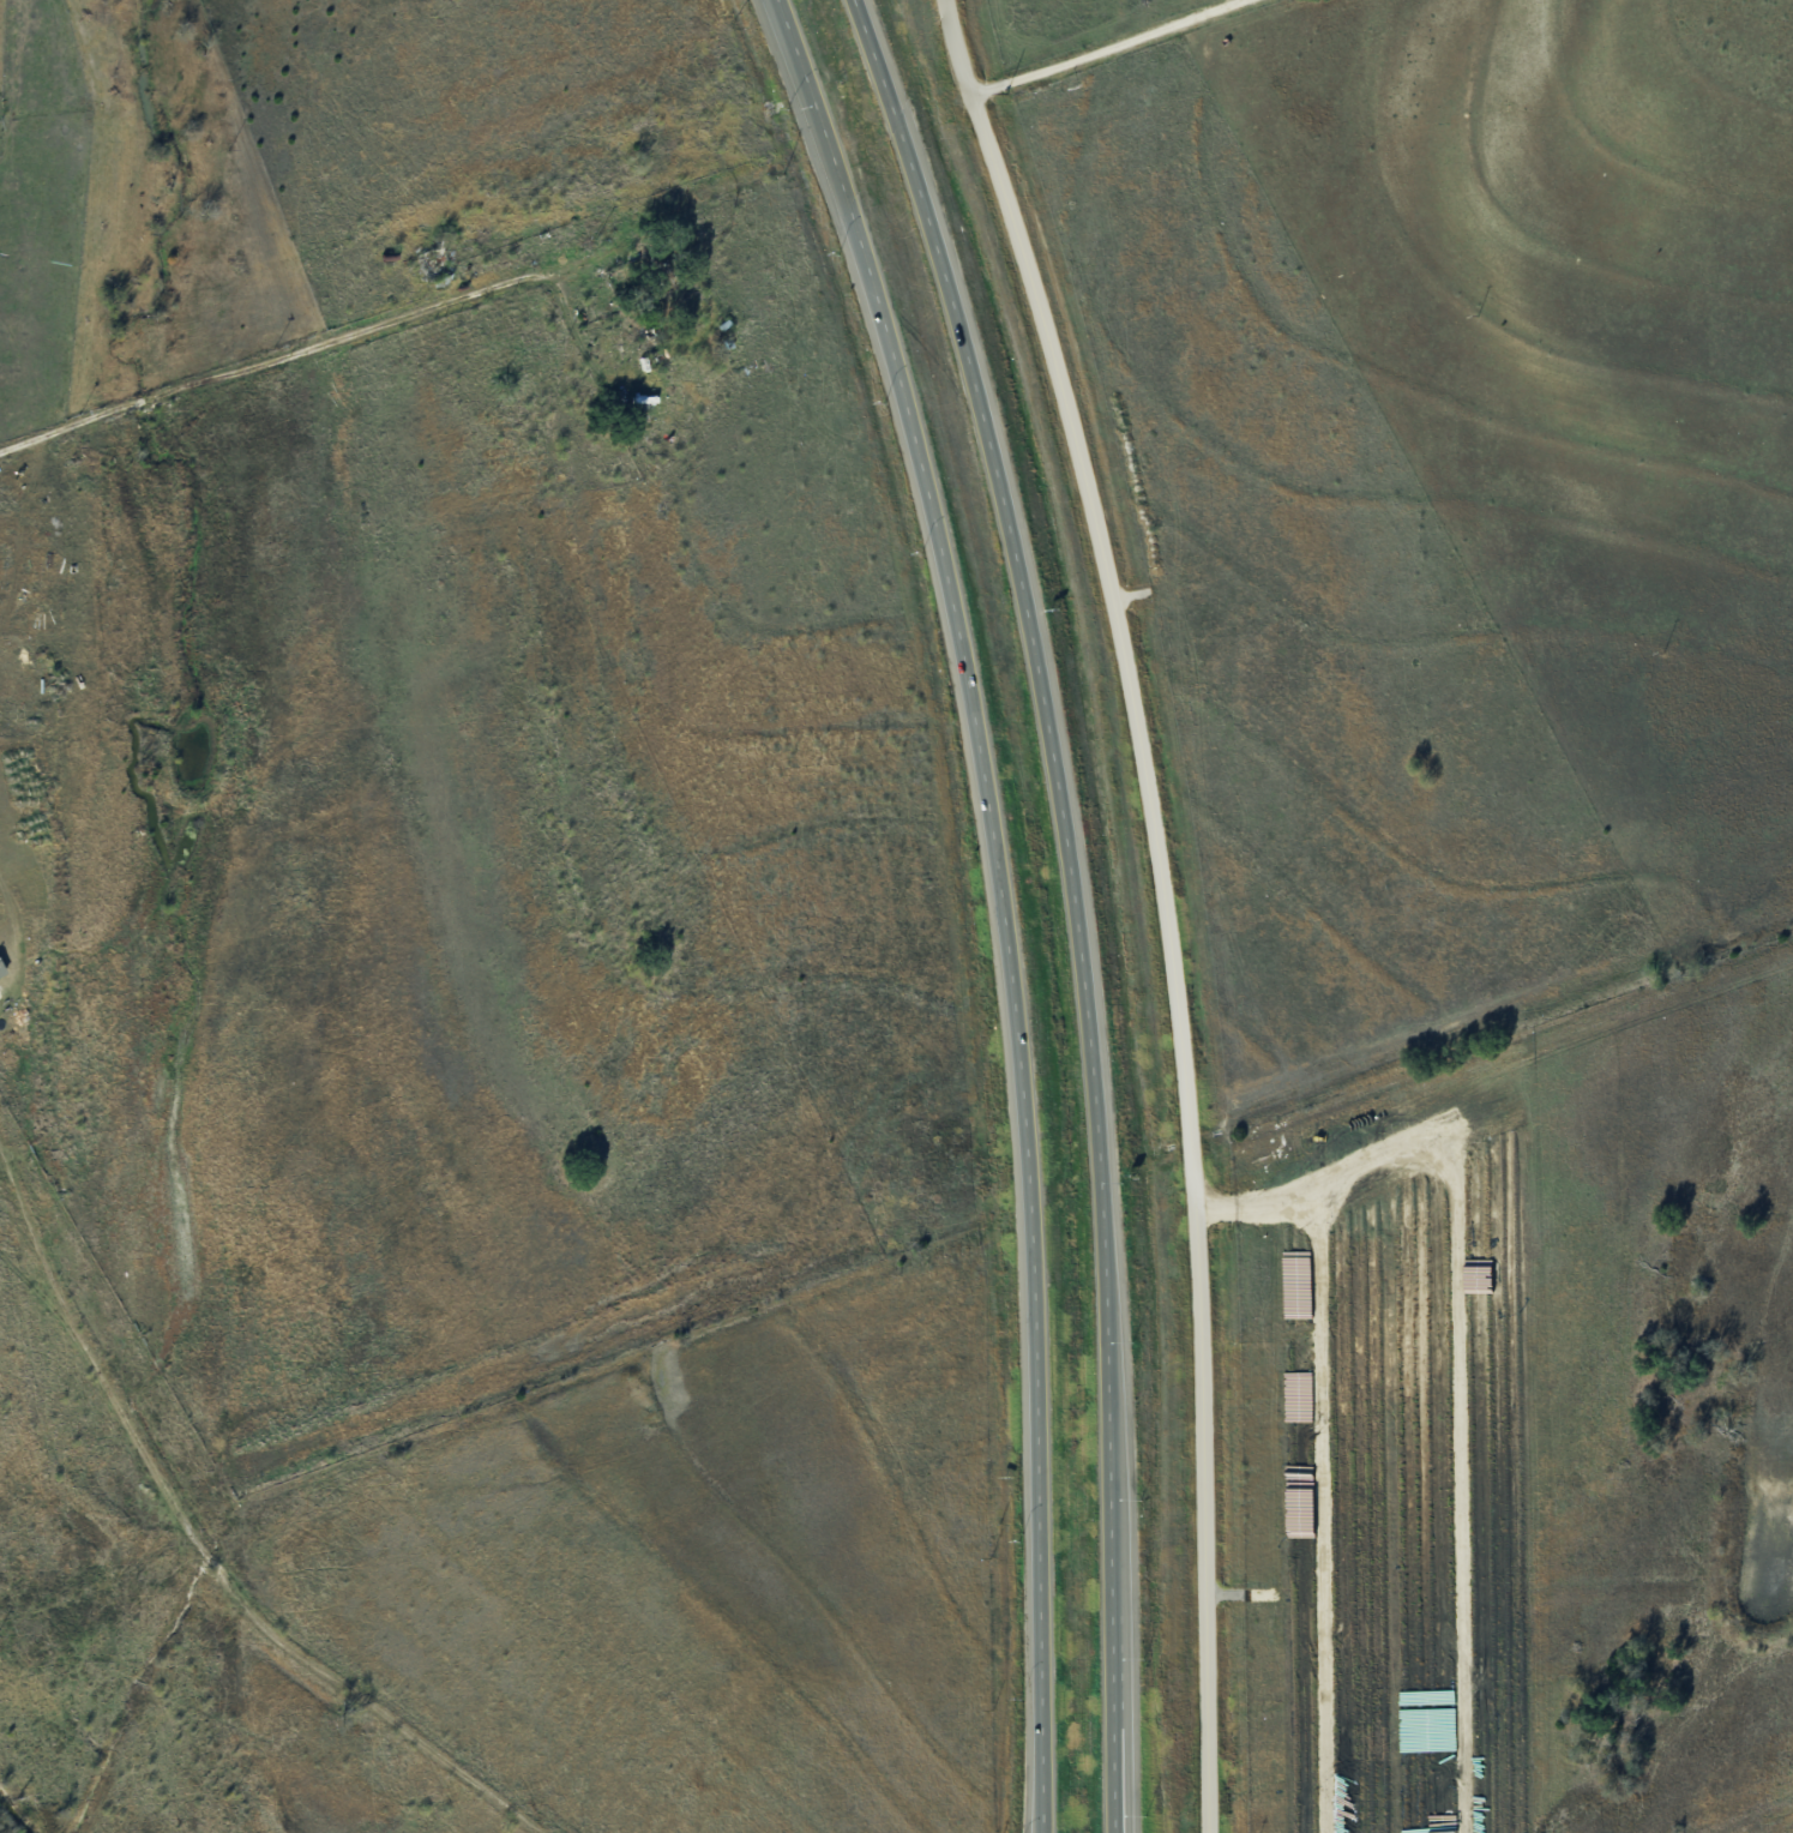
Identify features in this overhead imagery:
road: (1106, 49)
road: (570, 319)
road: (269, 362)
road: (26, 537)
road: (1058, 791)
road: (1000, 888)
road: (1163, 903)
road: (13, 920)
road: (199, 1547)
road: (1113, 1720)
road: (1118, 1720)
road: (1041, 1820)
road: (1043, 1820)

